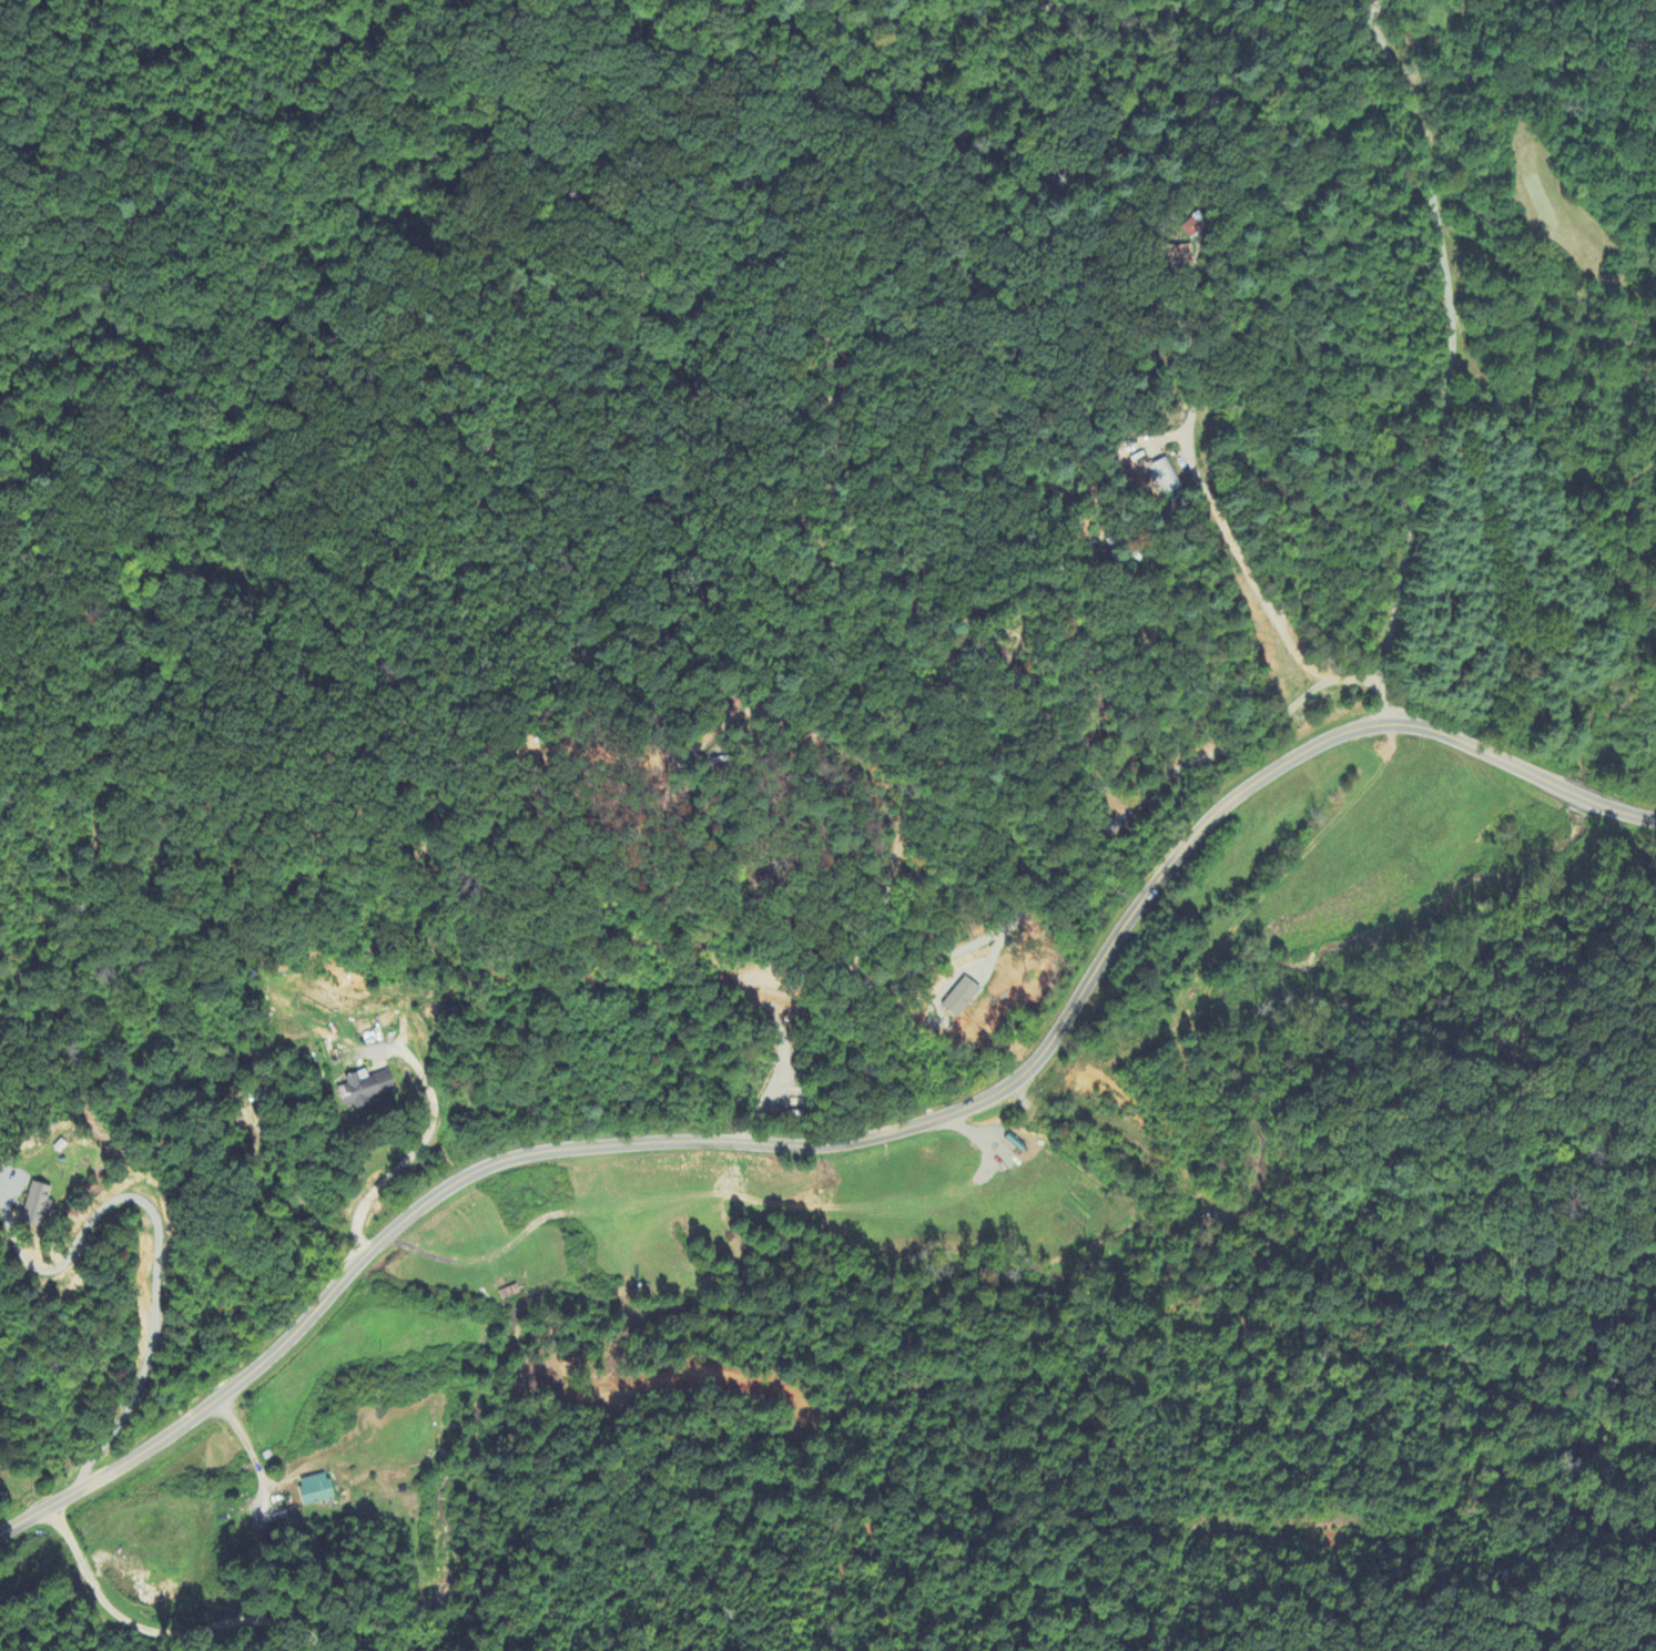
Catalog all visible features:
road: (1120, 28)
building: (1171, 253)
road: (1452, 354)
building: (1182, 508)
road: (1238, 572)
road: (1146, 799)
road: (1574, 806)
road: (1617, 816)
building: (957, 998)
building: (367, 1089)
road: (427, 1138)
road: (815, 1145)
building: (39, 1206)
road: (159, 1255)
road: (248, 1448)
building: (317, 1490)
road: (160, 1635)

